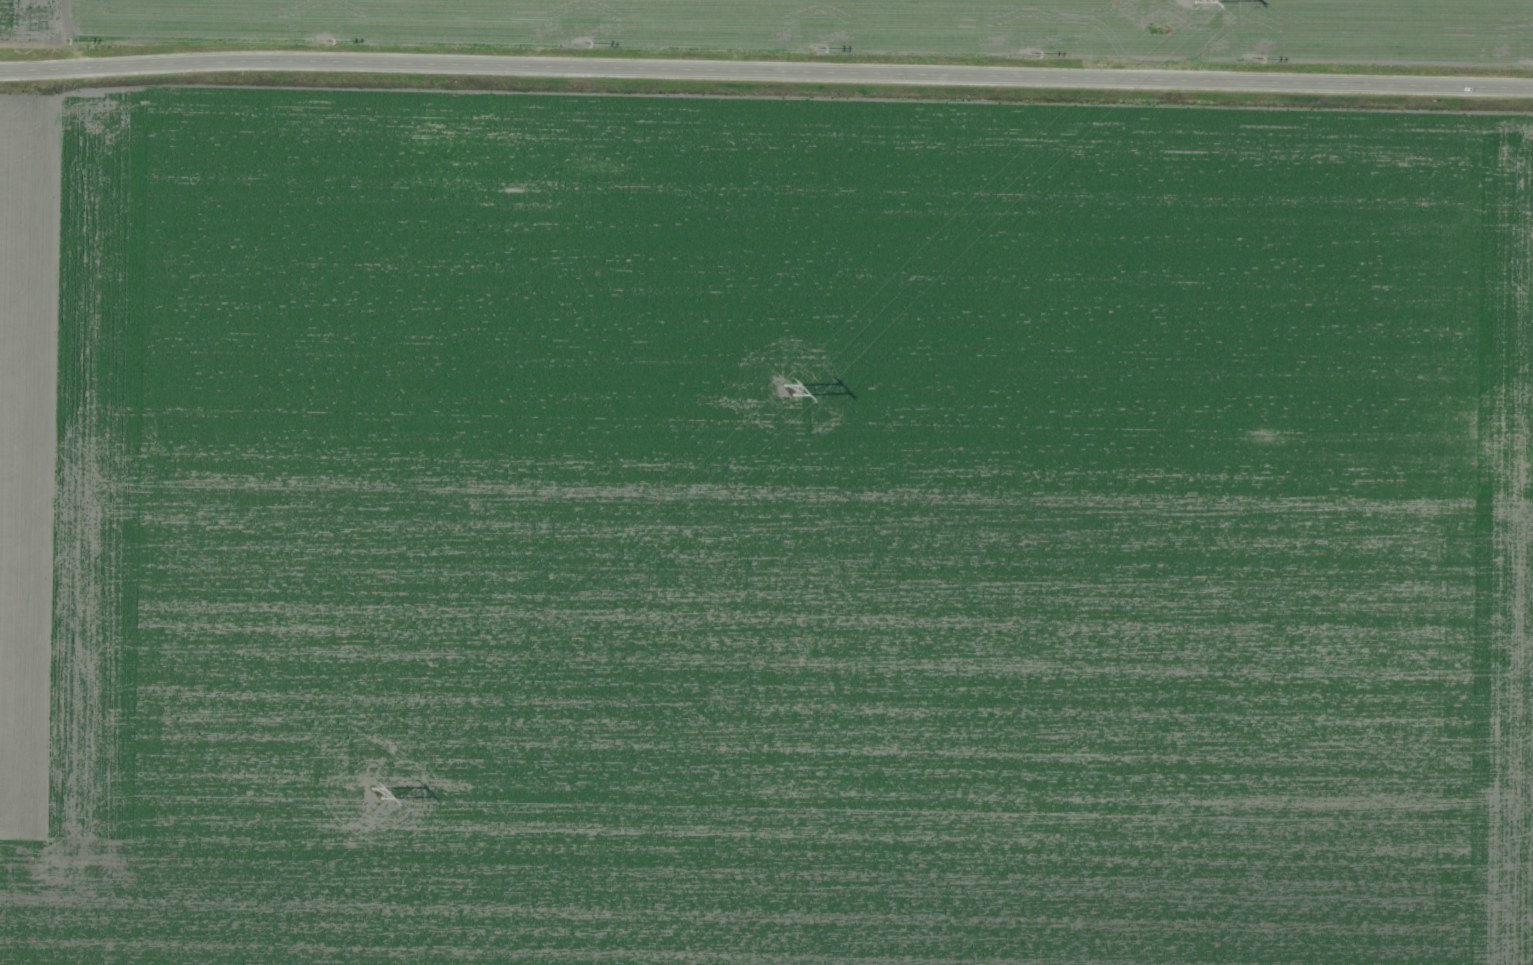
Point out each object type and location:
road: (766, 69)
power tower: (794, 388)
power tower: (375, 792)

